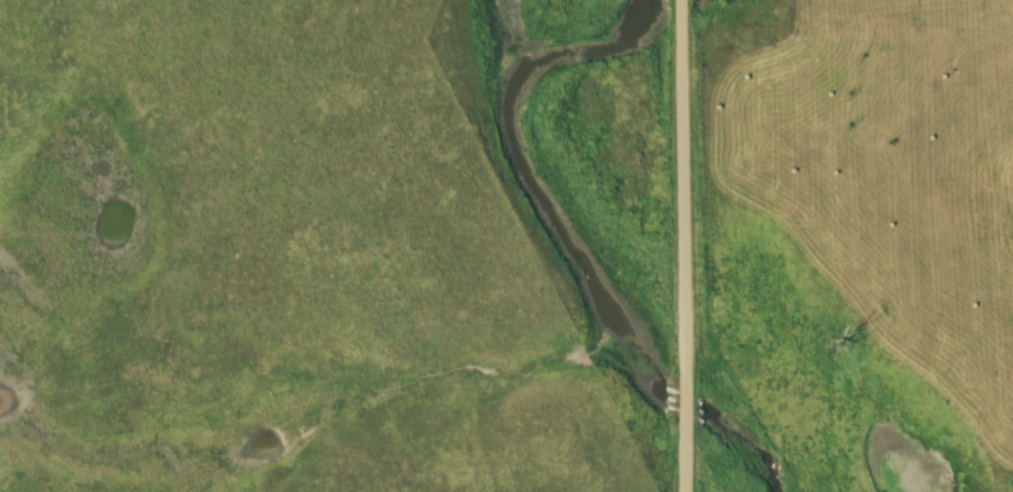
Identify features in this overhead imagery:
road: (684, 246)

